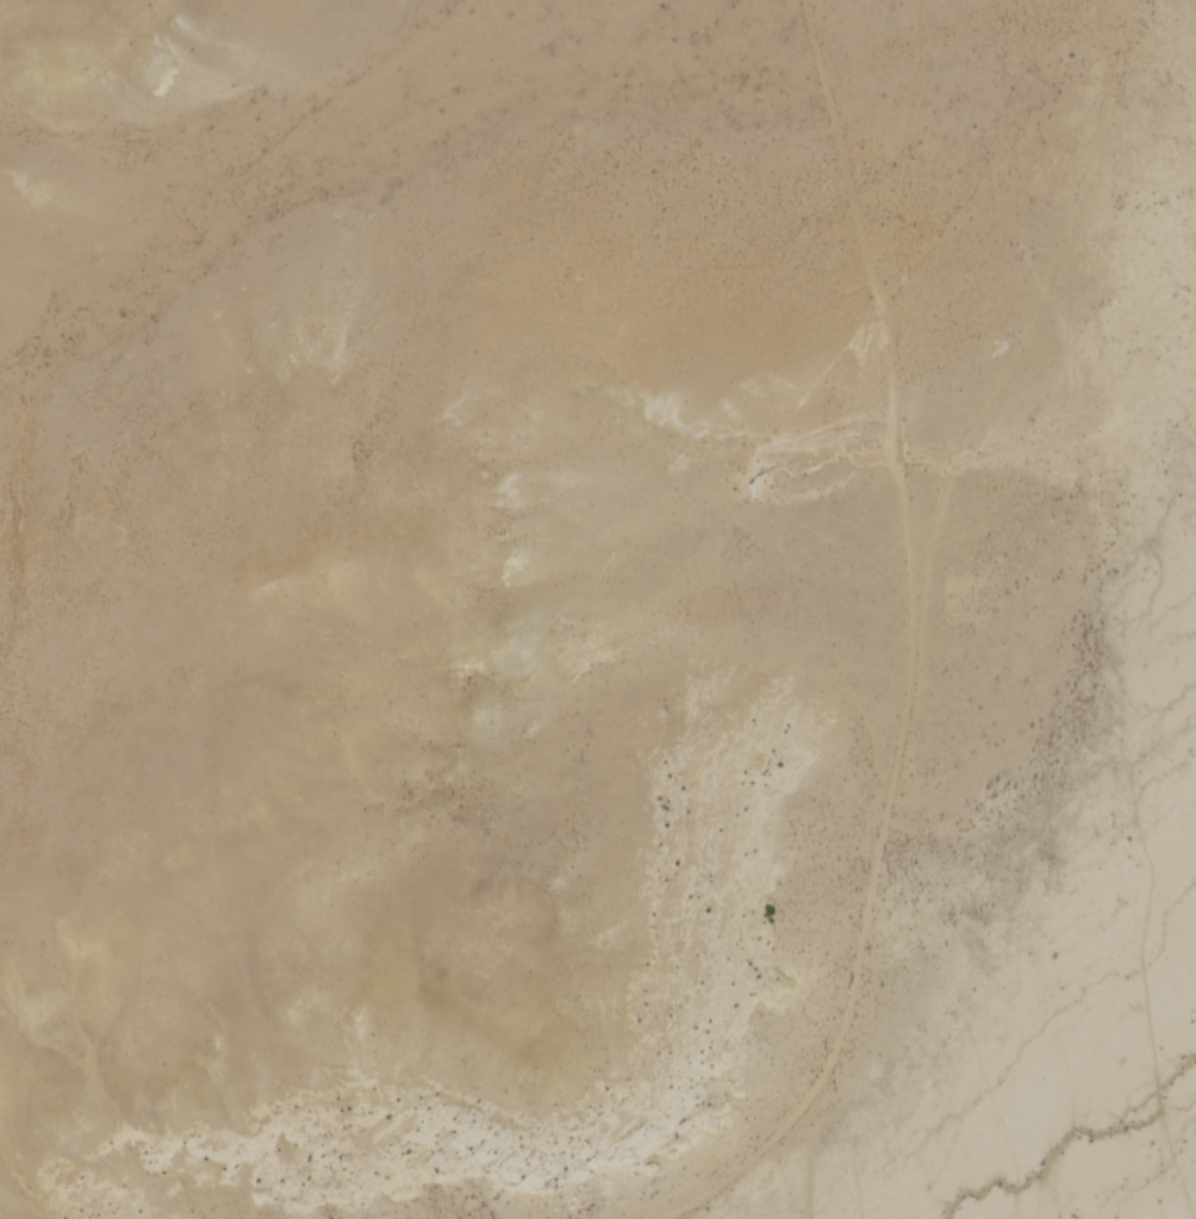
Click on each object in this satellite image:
road: (907, 636)

